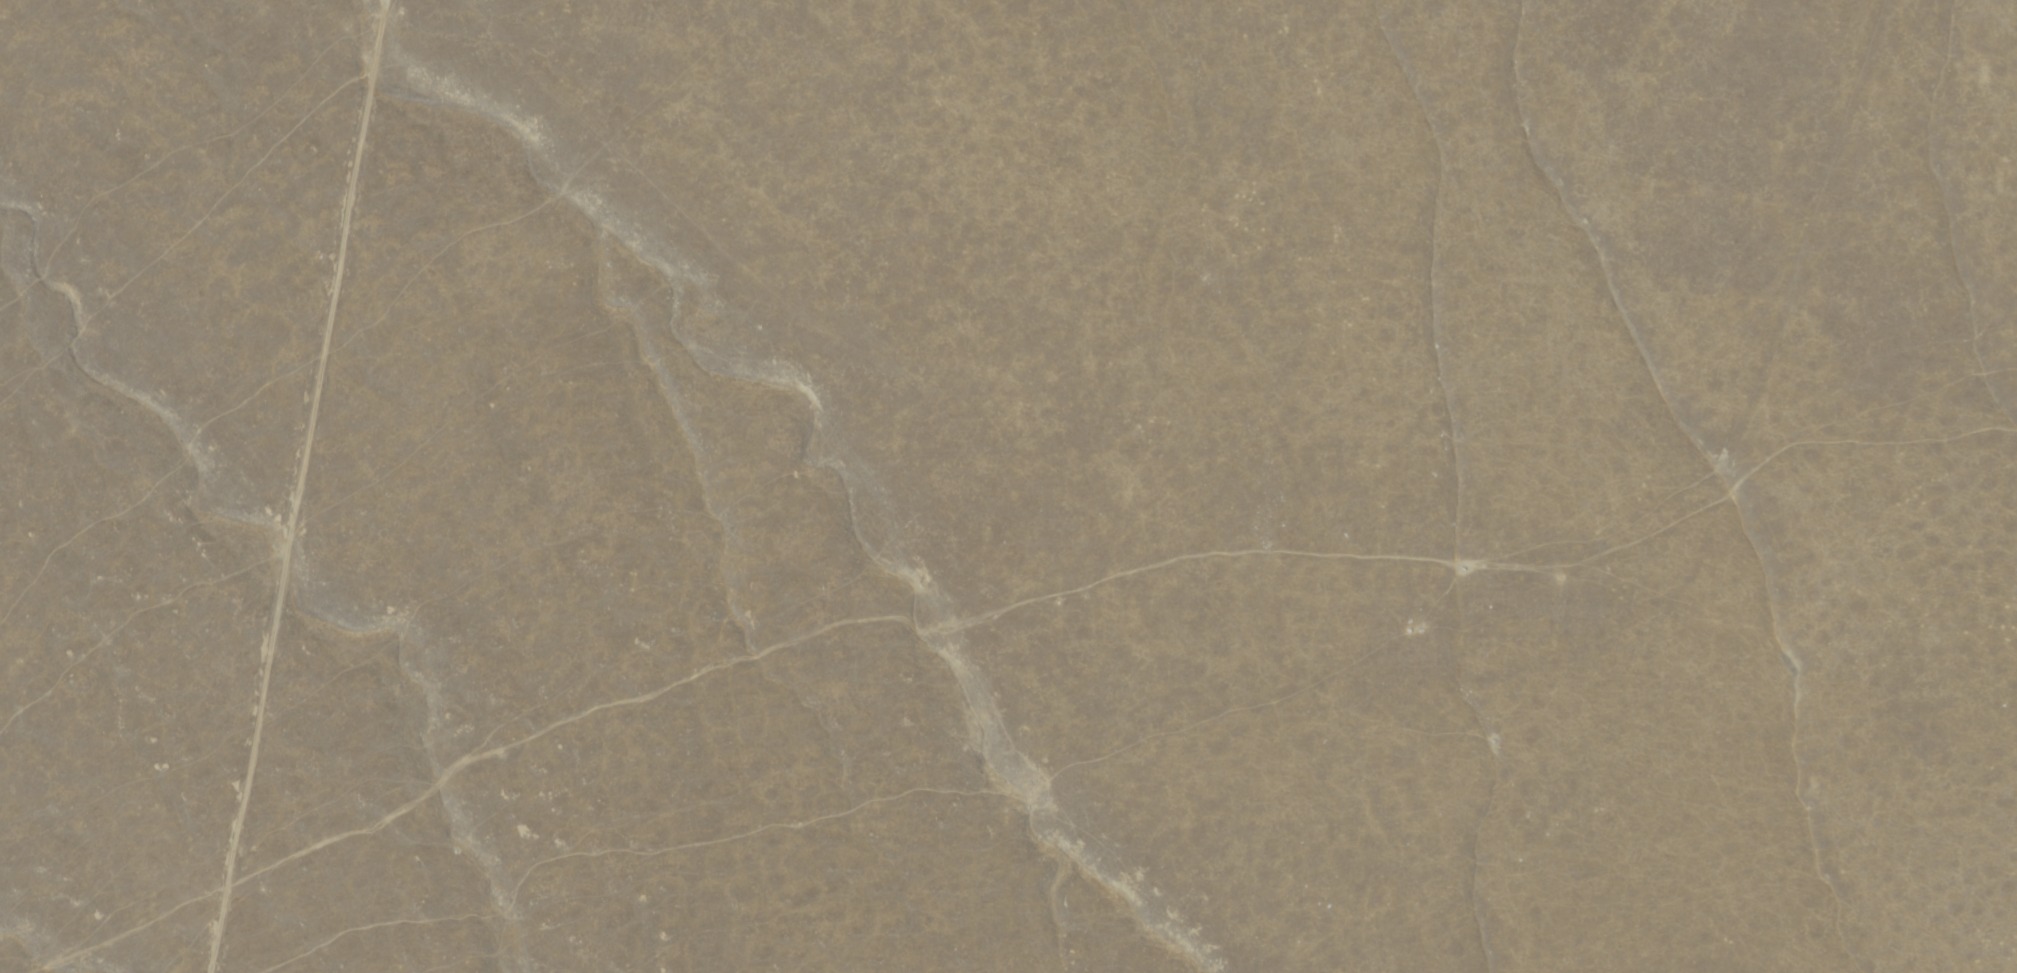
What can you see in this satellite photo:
road: (299, 486)

